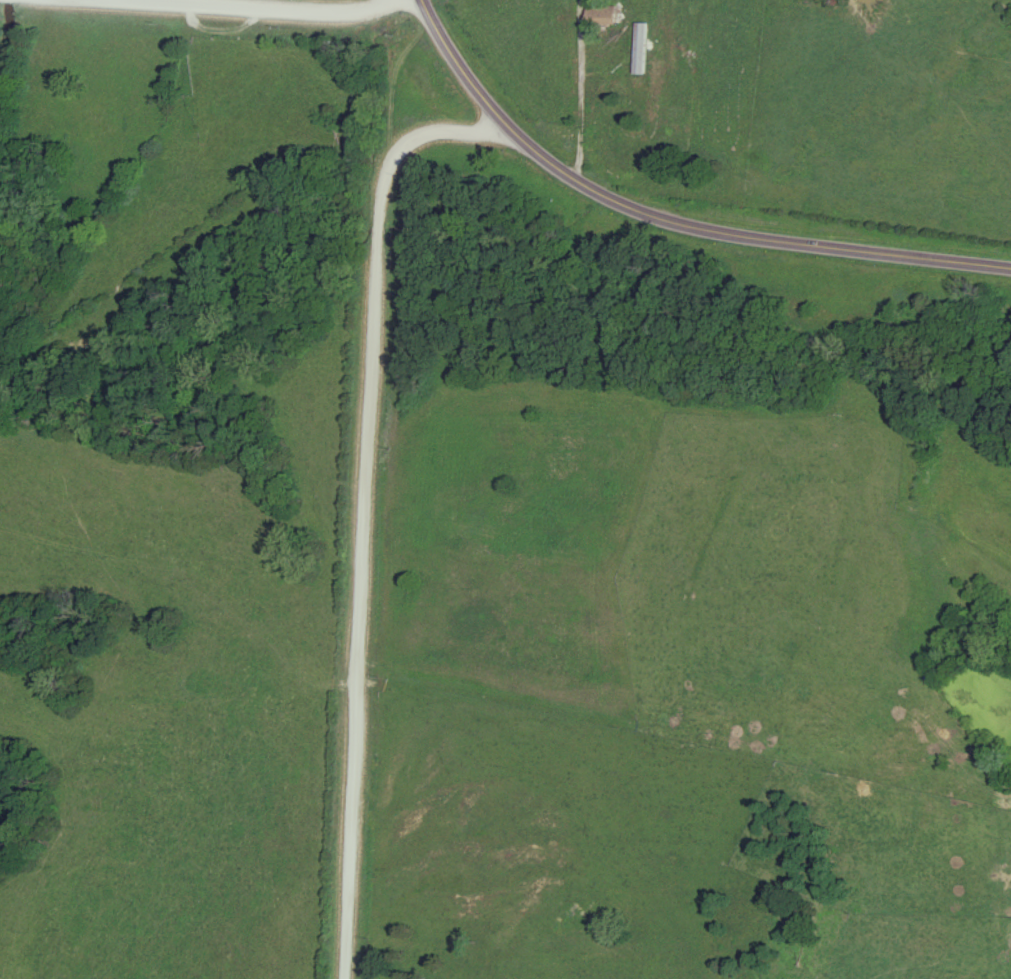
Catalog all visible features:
road: (243, 8)
road: (585, 93)
road: (669, 223)
road: (367, 503)

